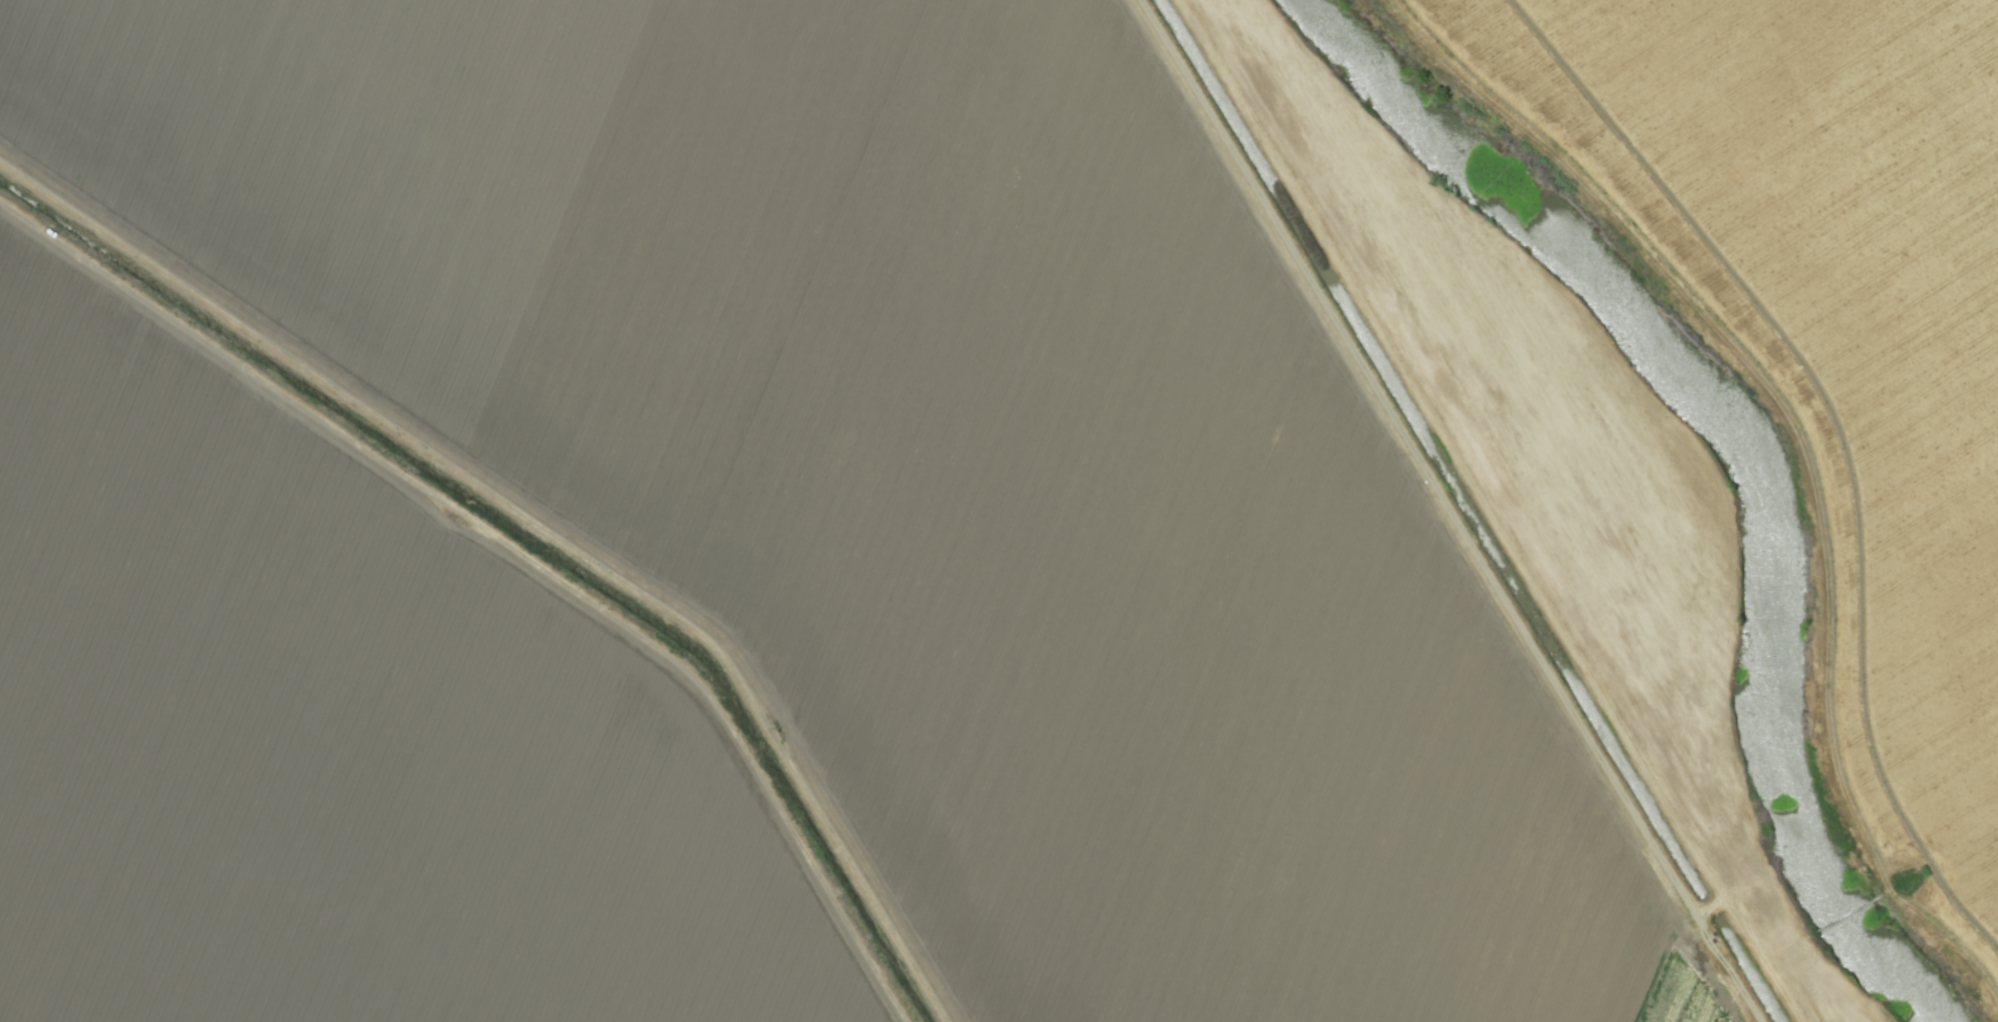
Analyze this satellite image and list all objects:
crop: (999, 511)

